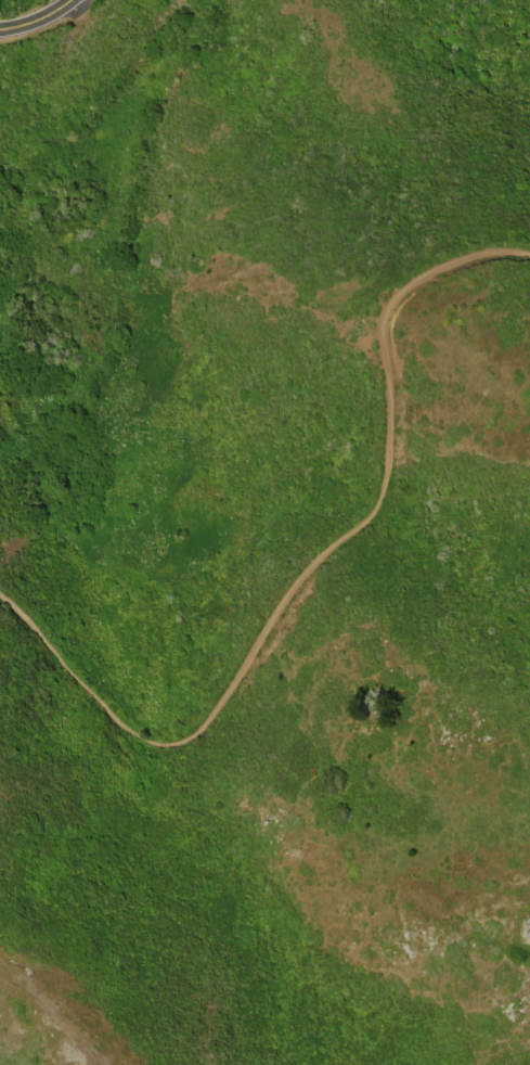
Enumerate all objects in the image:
road: (39, 18)
road: (315, 565)

